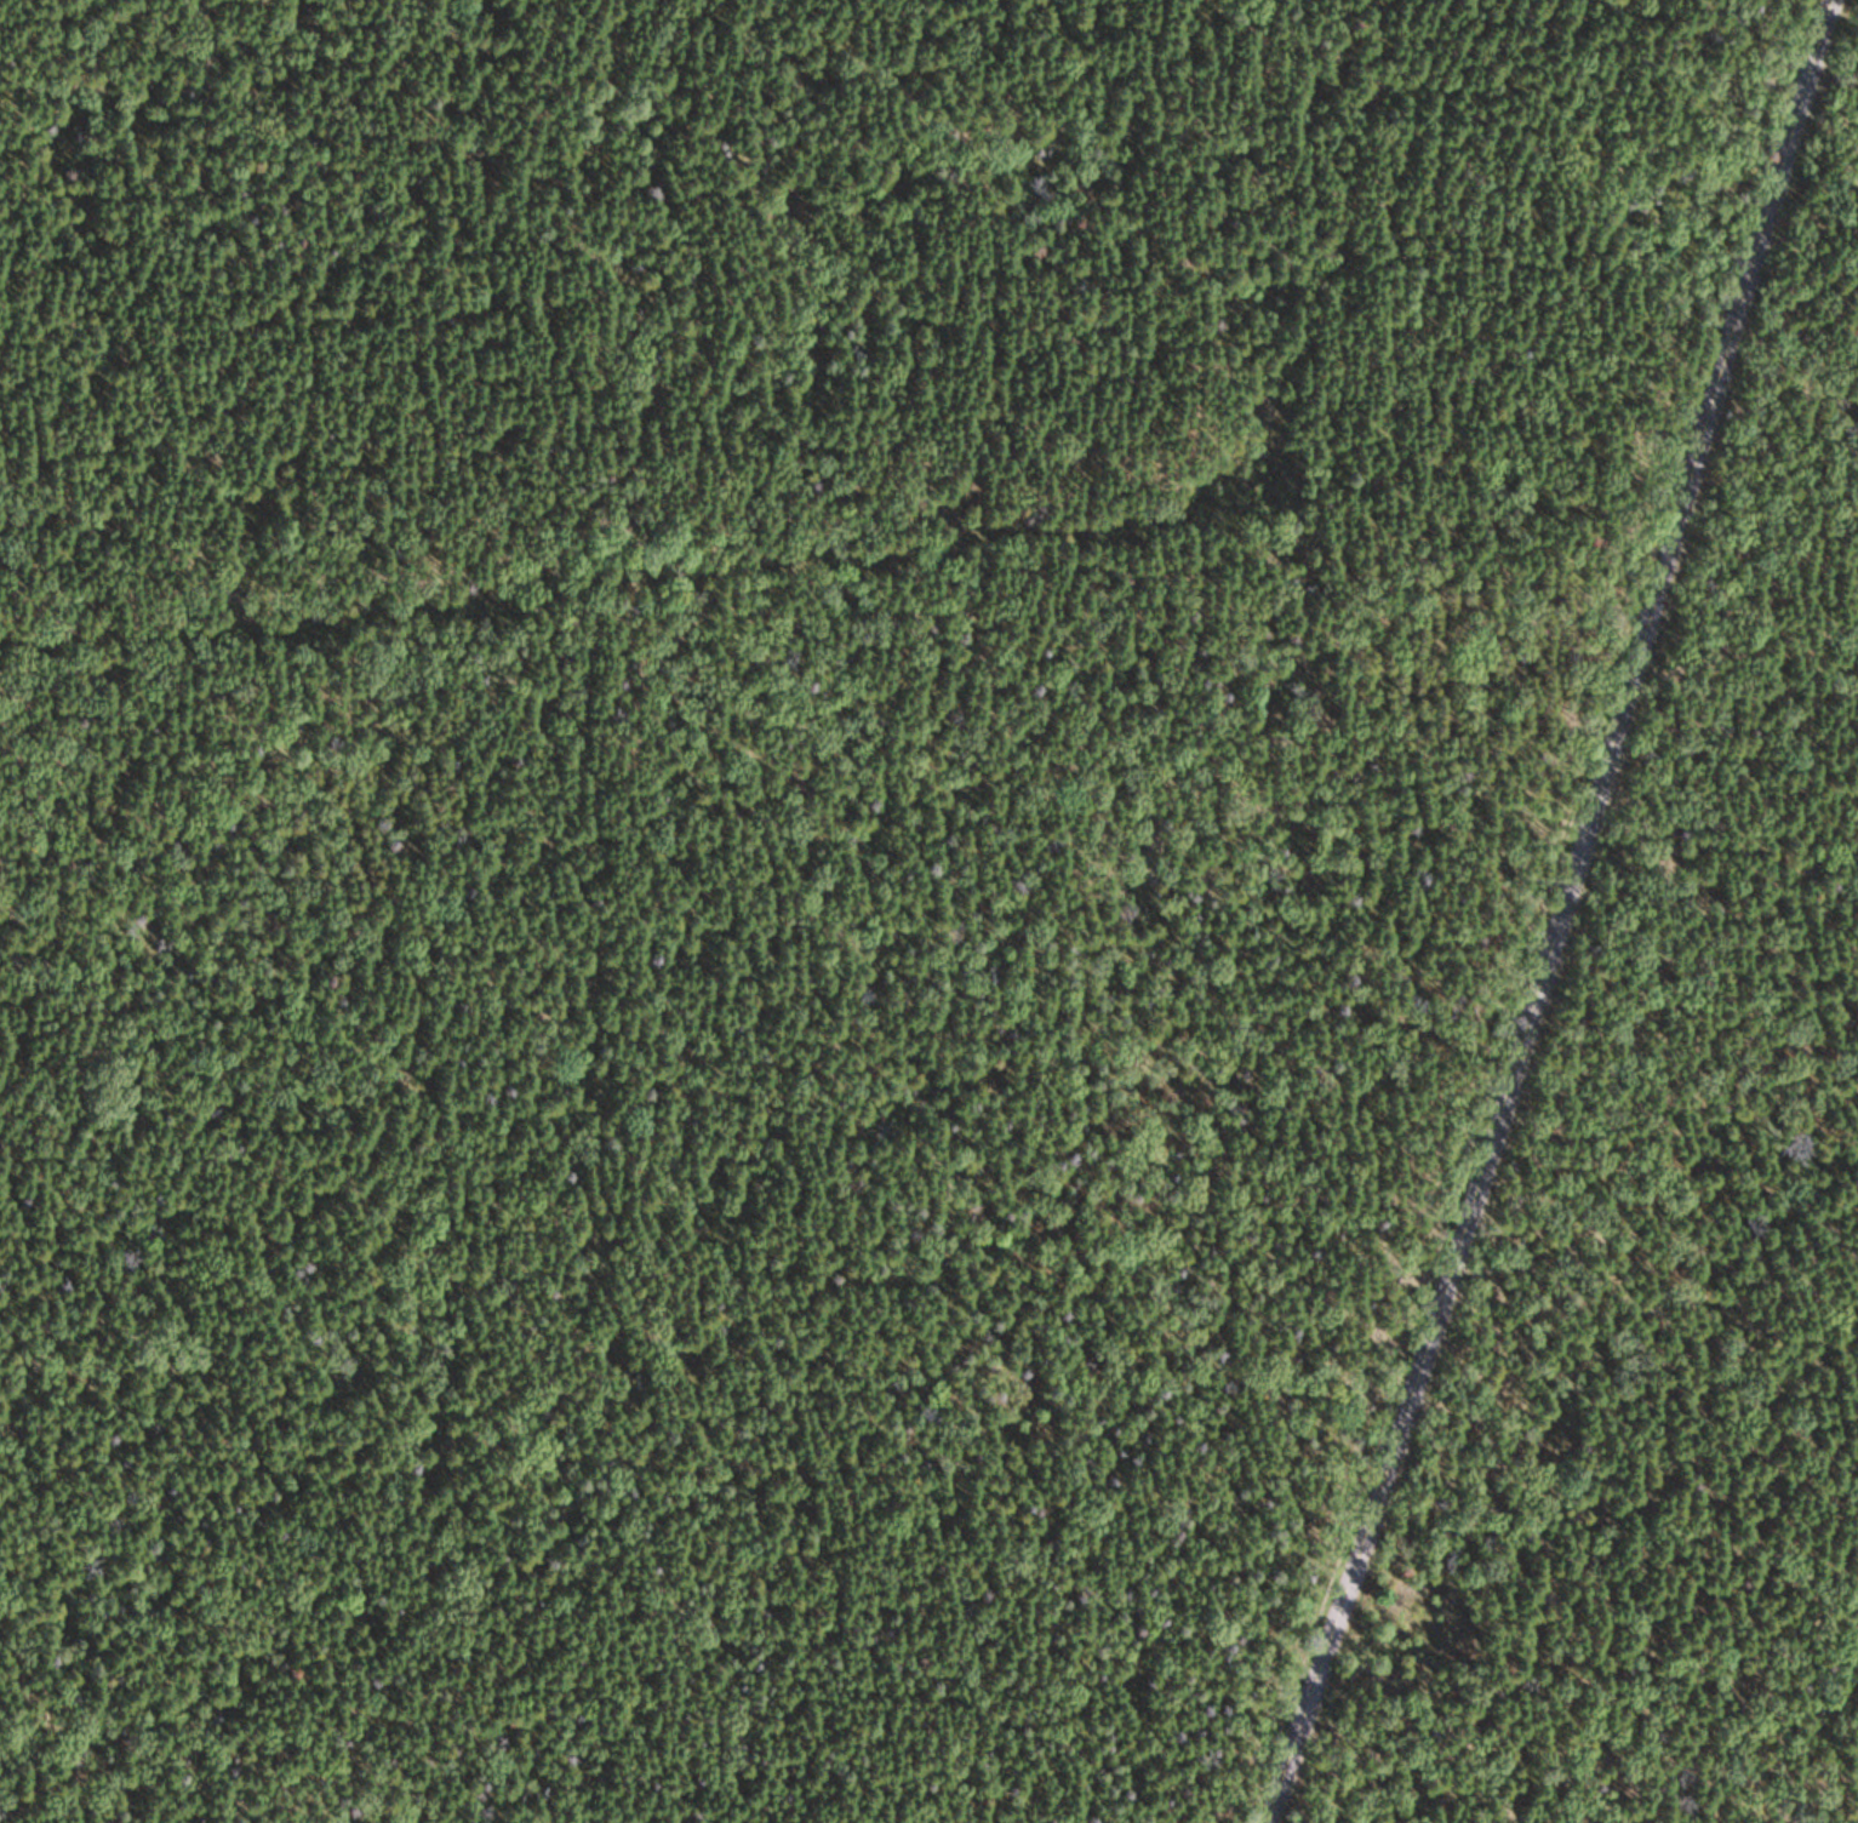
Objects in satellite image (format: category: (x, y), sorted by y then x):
road: (1557, 915)

